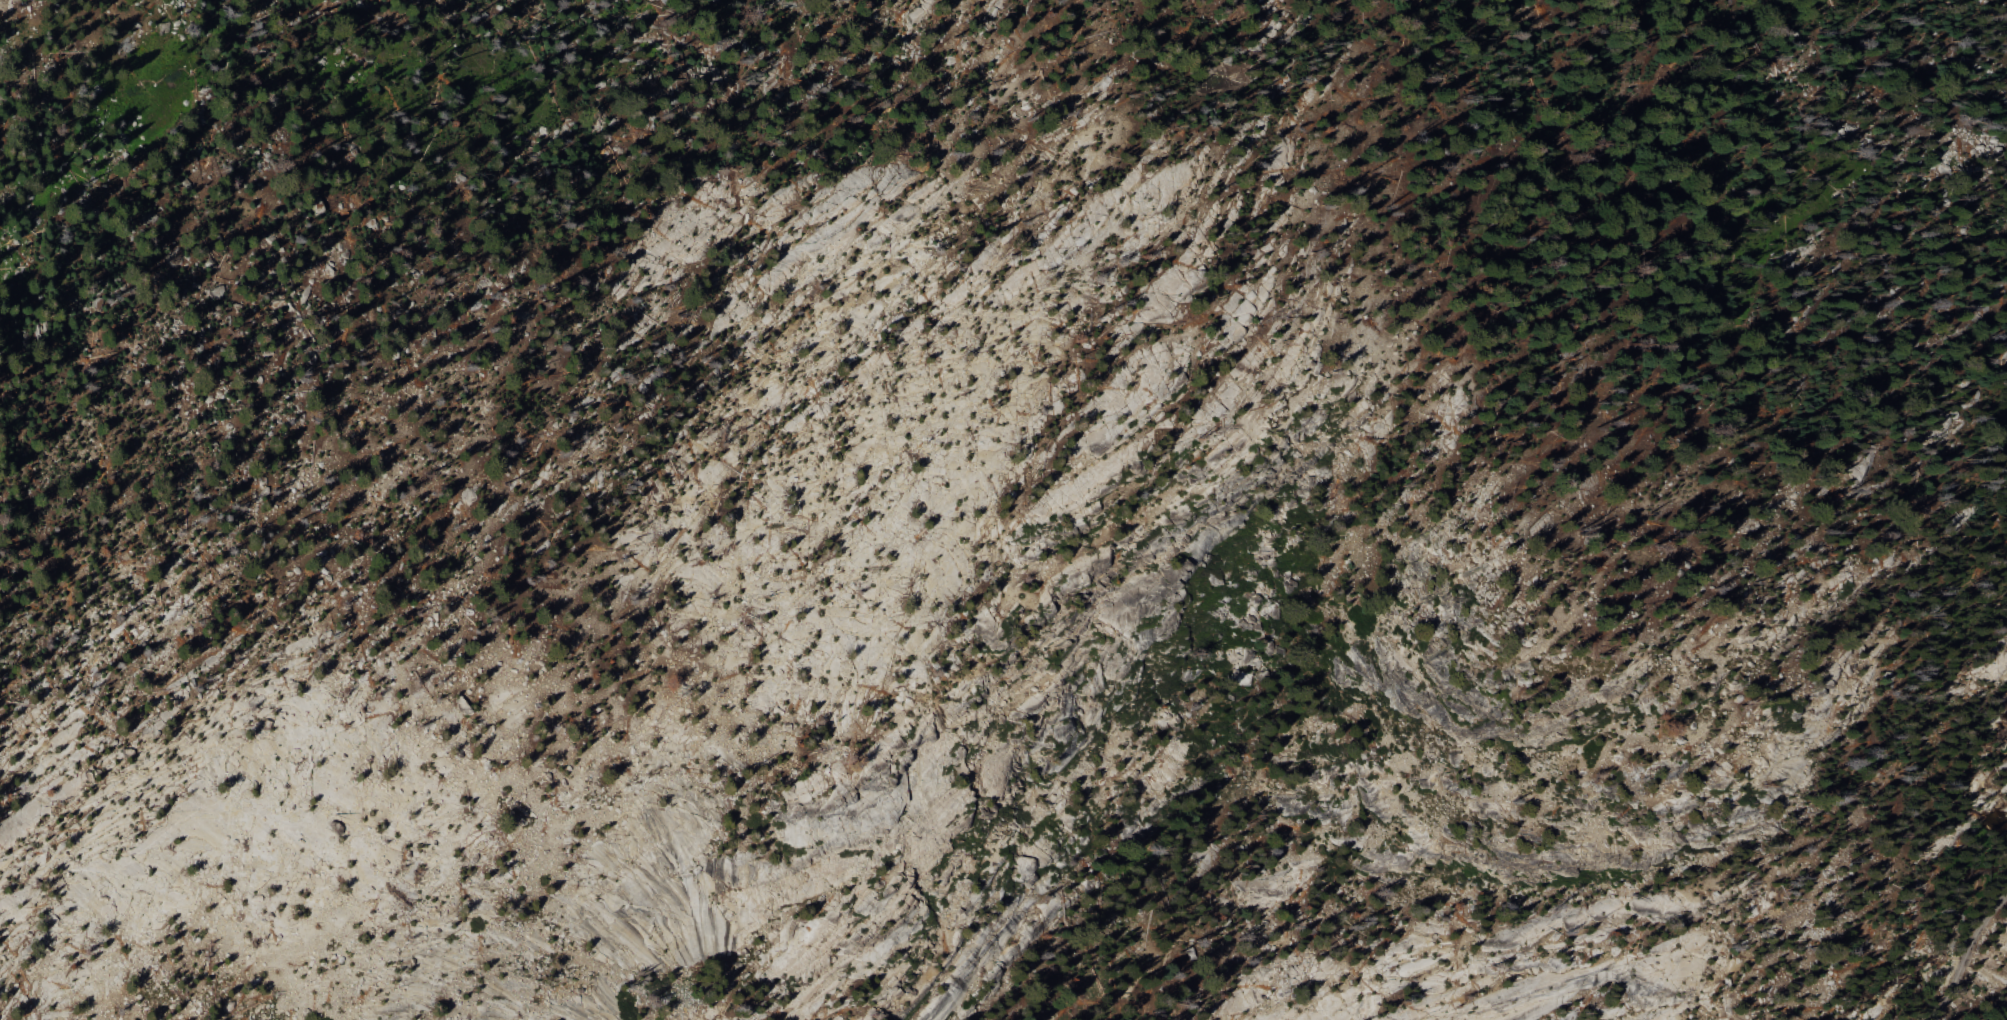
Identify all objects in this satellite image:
road: (1966, 954)

